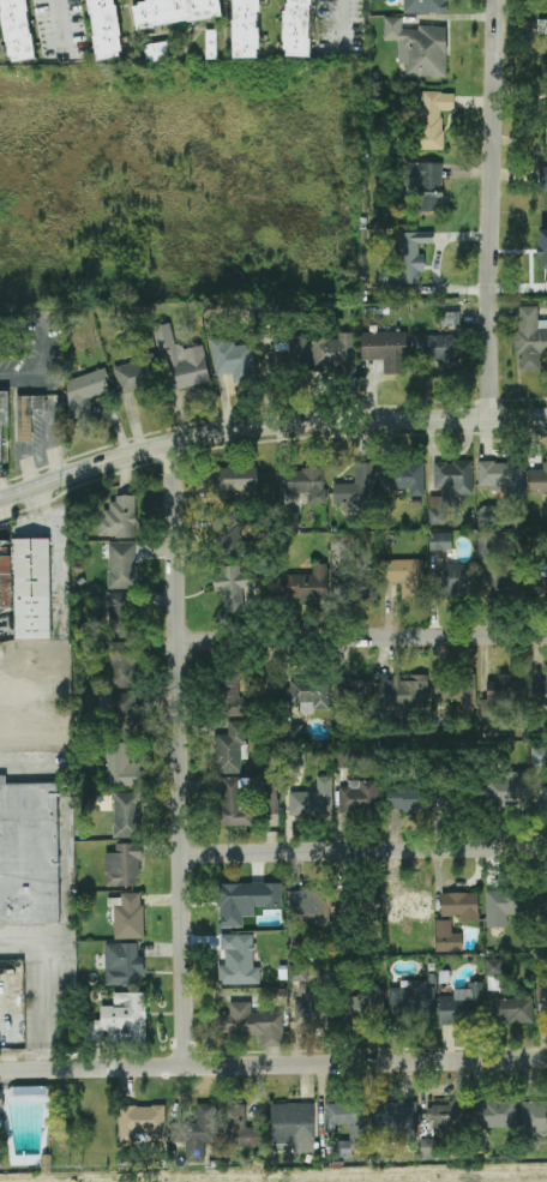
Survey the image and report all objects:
building: (425, 6)
building: (174, 12)
road: (61, 25)
road: (343, 25)
building: (297, 28)
building: (104, 29)
building: (245, 29)
building: (17, 30)
building: (419, 48)
building: (156, 52)
building: (545, 66)
building: (434, 118)
building: (546, 136)
building: (427, 184)
building: (546, 191)
road: (494, 210)
building: (408, 260)
building: (530, 338)
building: (446, 341)
building: (386, 350)
building: (333, 352)
building: (289, 353)
building: (182, 361)
building: (233, 361)
building: (137, 374)
road: (24, 377)
building: (85, 392)
building: (28, 415)
building: (4, 418)
road: (268, 427)
building: (402, 476)
building: (499, 476)
building: (235, 479)
building: (537, 480)
building: (305, 486)
building: (356, 486)
building: (449, 488)
building: (486, 516)
building: (118, 518)
building: (291, 521)
building: (229, 535)
building: (495, 539)
building: (440, 541)
building: (126, 563)
building: (5, 575)
building: (405, 576)
building: (499, 577)
building: (362, 582)
building: (453, 582)
building: (540, 584)
building: (309, 586)
building: (232, 587)
building: (31, 589)
building: (122, 614)
road: (363, 640)
building: (122, 665)
building: (350, 691)
building: (402, 692)
building: (453, 692)
building: (540, 692)
building: (311, 694)
building: (503, 696)
building: (234, 698)
building: (125, 715)
building: (294, 731)
building: (230, 749)
building: (539, 755)
road: (181, 756)
building: (296, 760)
building: (121, 767)
building: (506, 791)
building: (359, 797)
building: (404, 798)
building: (543, 798)
building: (271, 799)
building: (313, 799)
building: (235, 802)
building: (127, 815)
road: (365, 851)
building: (29, 853)
building: (122, 865)
building: (541, 900)
building: (247, 901)
building: (411, 906)
building: (459, 906)
building: (503, 906)
building: (309, 907)
building: (371, 907)
building: (128, 917)
building: (238, 960)
building: (122, 965)
building: (493, 967)
building: (307, 1001)
building: (542, 1001)
building: (411, 1002)
building: (462, 1006)
building: (366, 1007)
building: (512, 1010)
building: (121, 1020)
road: (312, 1033)
road: (273, 1067)
building: (29, 1093)
building: (1, 1099)
building: (495, 1114)
building: (446, 1116)
building: (139, 1121)
building: (395, 1122)
building: (534, 1122)
building: (294, 1126)
building: (357, 1127)
building: (241, 1129)
building: (197, 1132)
building: (427, 1148)

